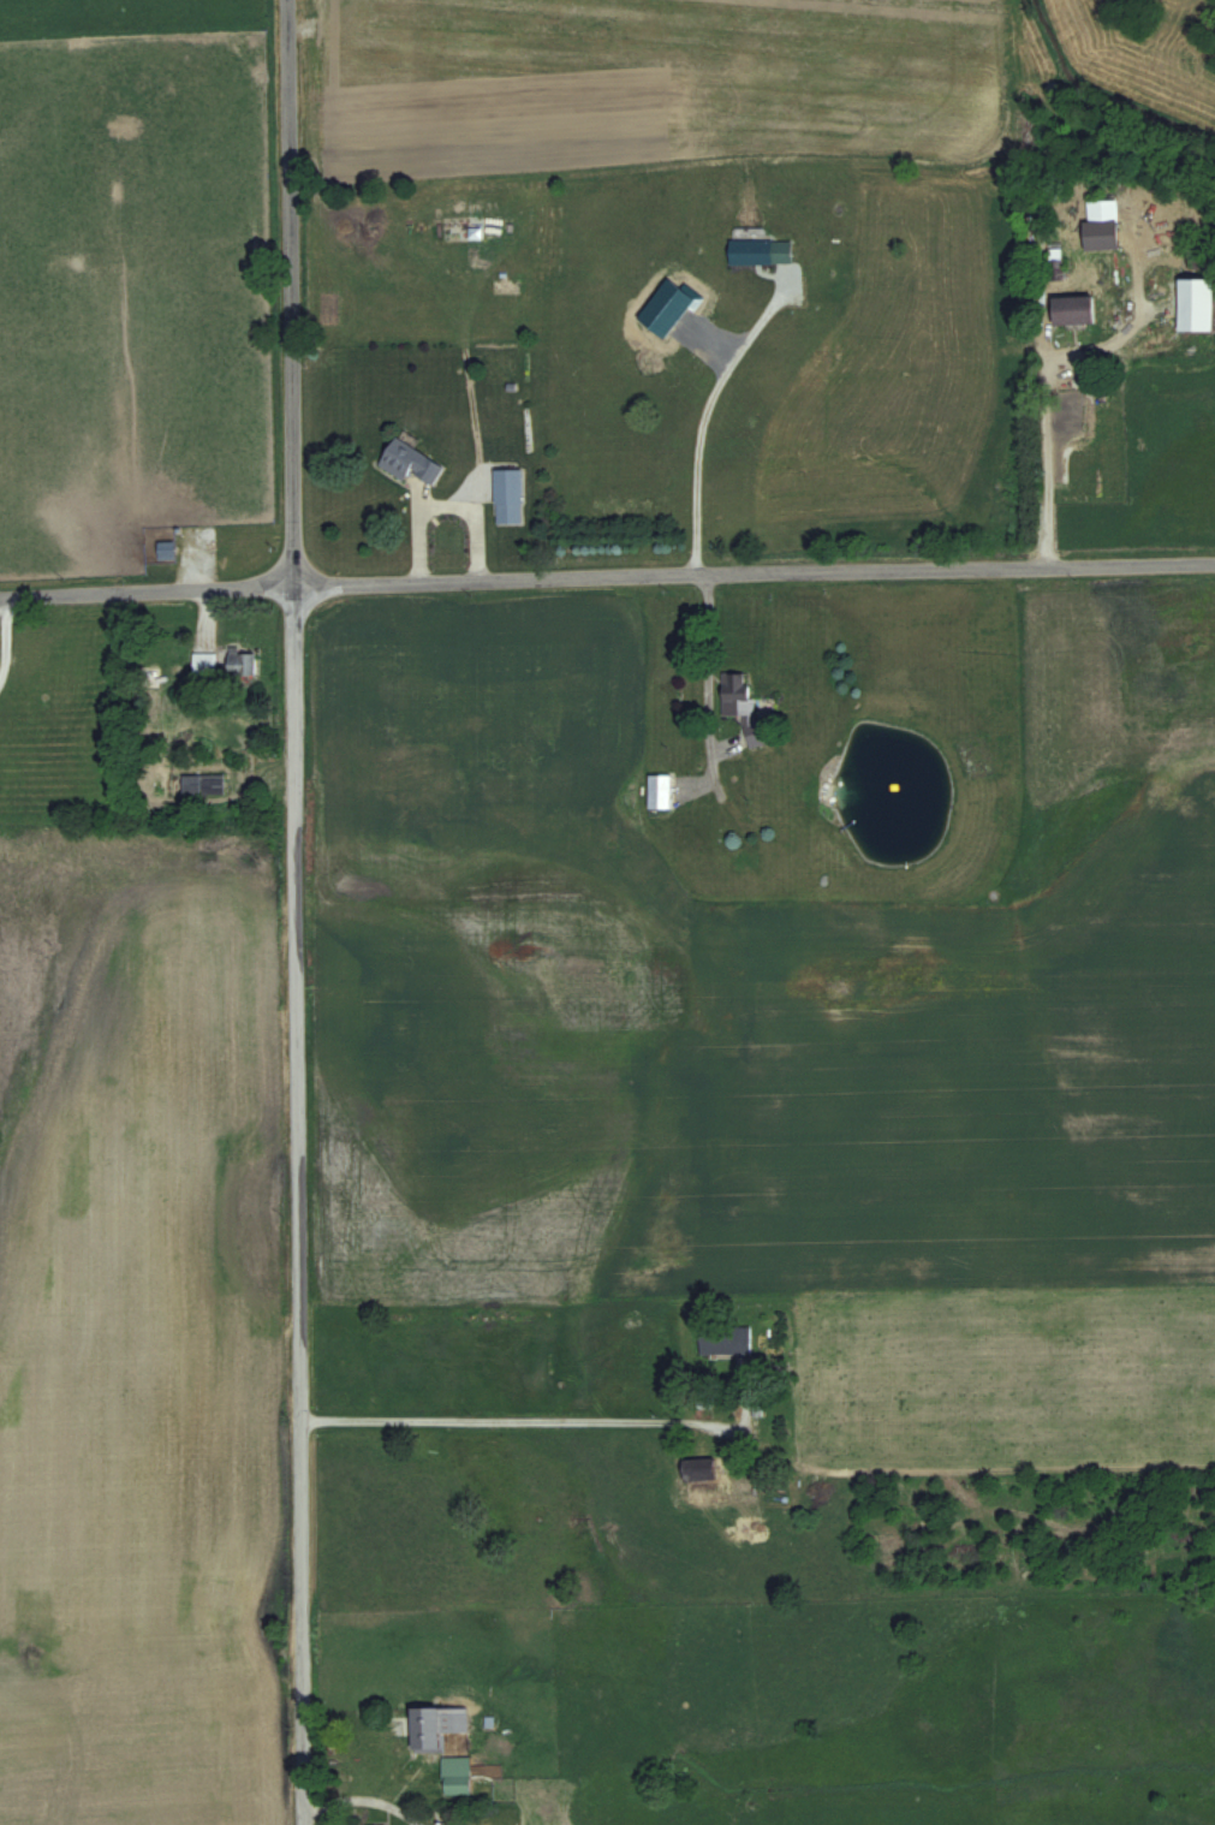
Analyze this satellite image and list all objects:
building: (474, 228)
building: (760, 251)
road: (288, 290)
building: (1195, 304)
building: (1072, 309)
road: (699, 416)
building: (409, 462)
road: (1048, 464)
building: (507, 495)
road: (445, 510)
building: (166, 549)
road: (607, 570)
road: (1, 623)
building: (242, 662)
building: (203, 664)
road: (709, 680)
building: (740, 705)
building: (202, 784)
building: (659, 791)
road: (291, 1202)
building: (723, 1339)
road: (716, 1397)
road: (492, 1423)
building: (703, 1473)
building: (455, 1775)
road: (362, 1793)

